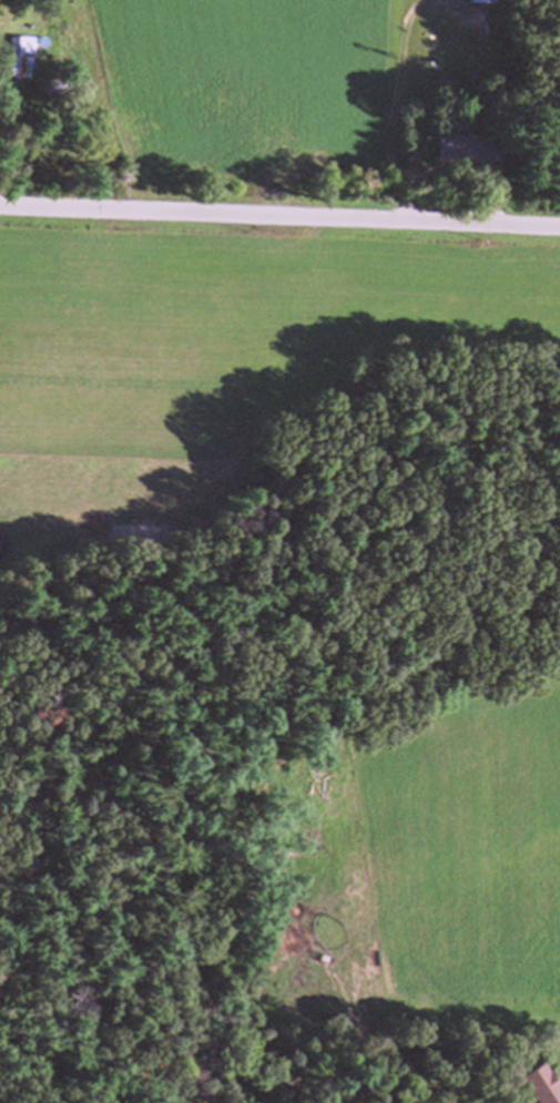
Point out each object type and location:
building: (474, 1)
building: (21, 55)
building: (449, 149)
road: (279, 211)
building: (536, 1086)

